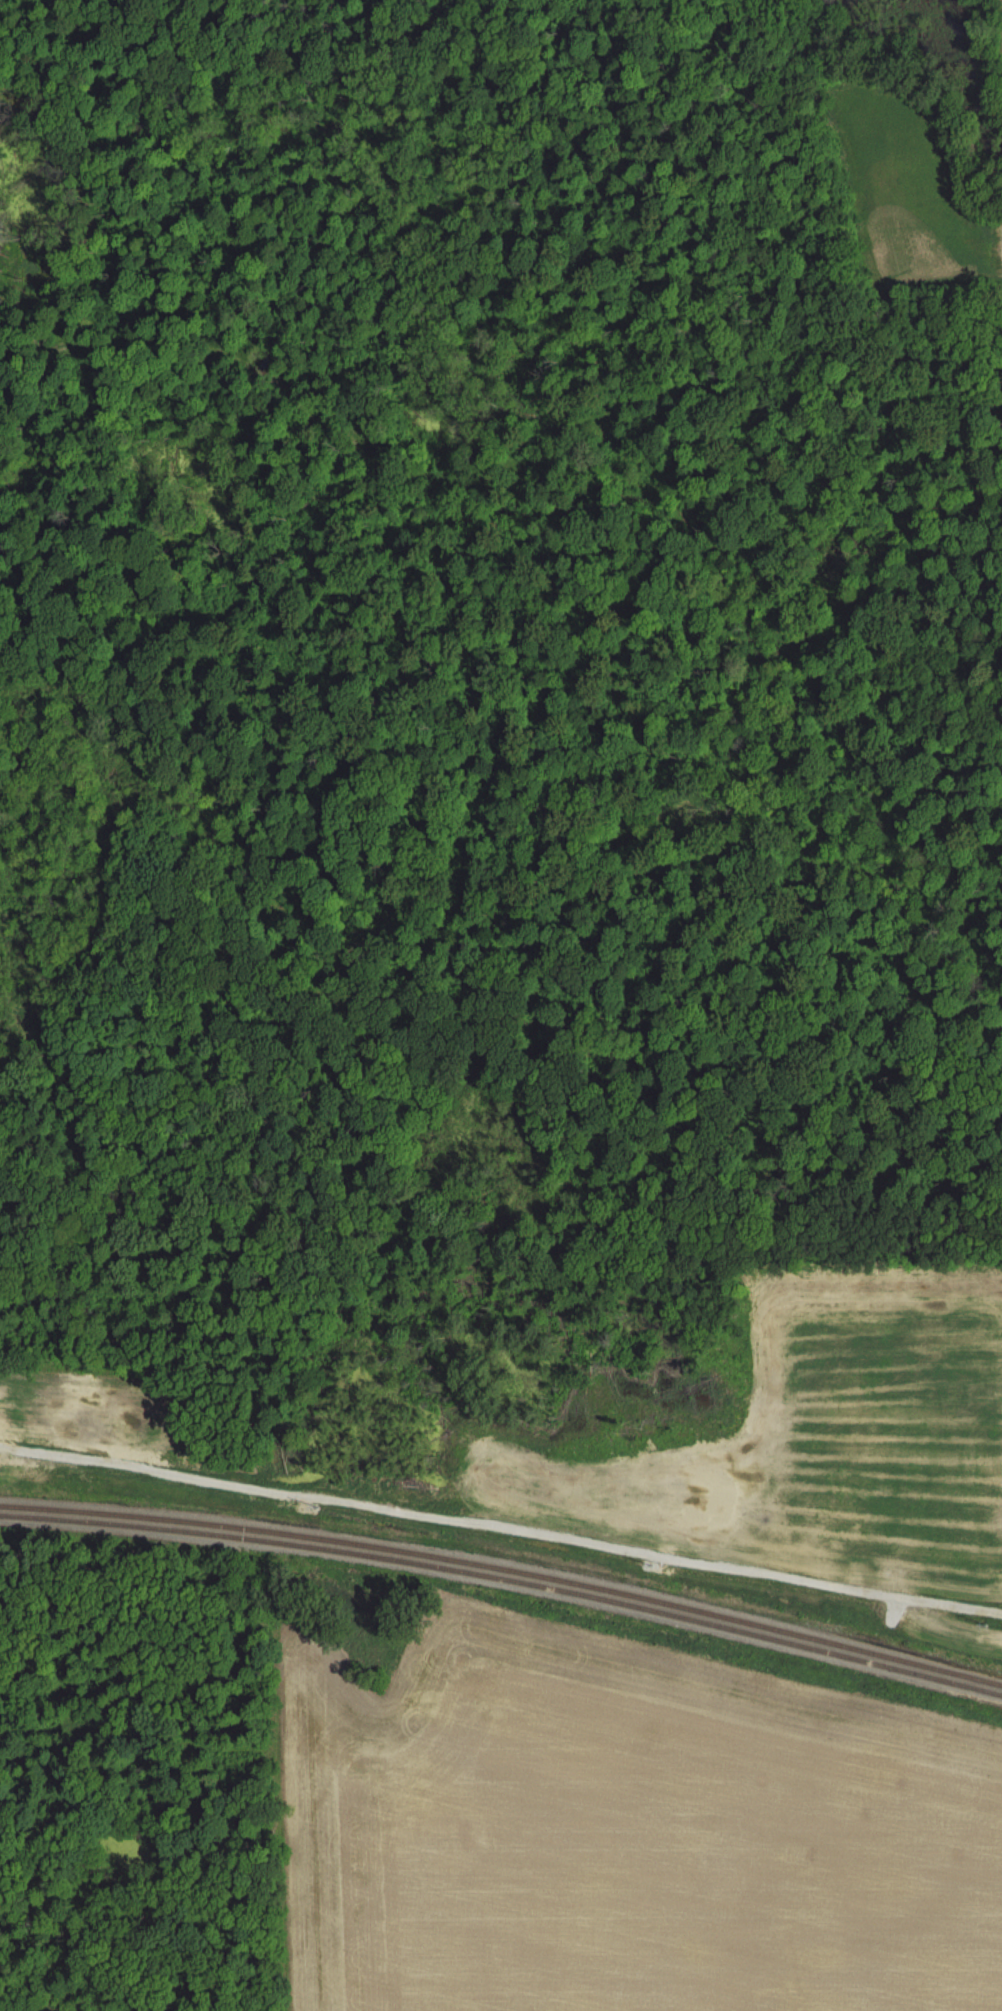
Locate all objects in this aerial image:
railway: (505, 1567)
railway: (505, 1579)

